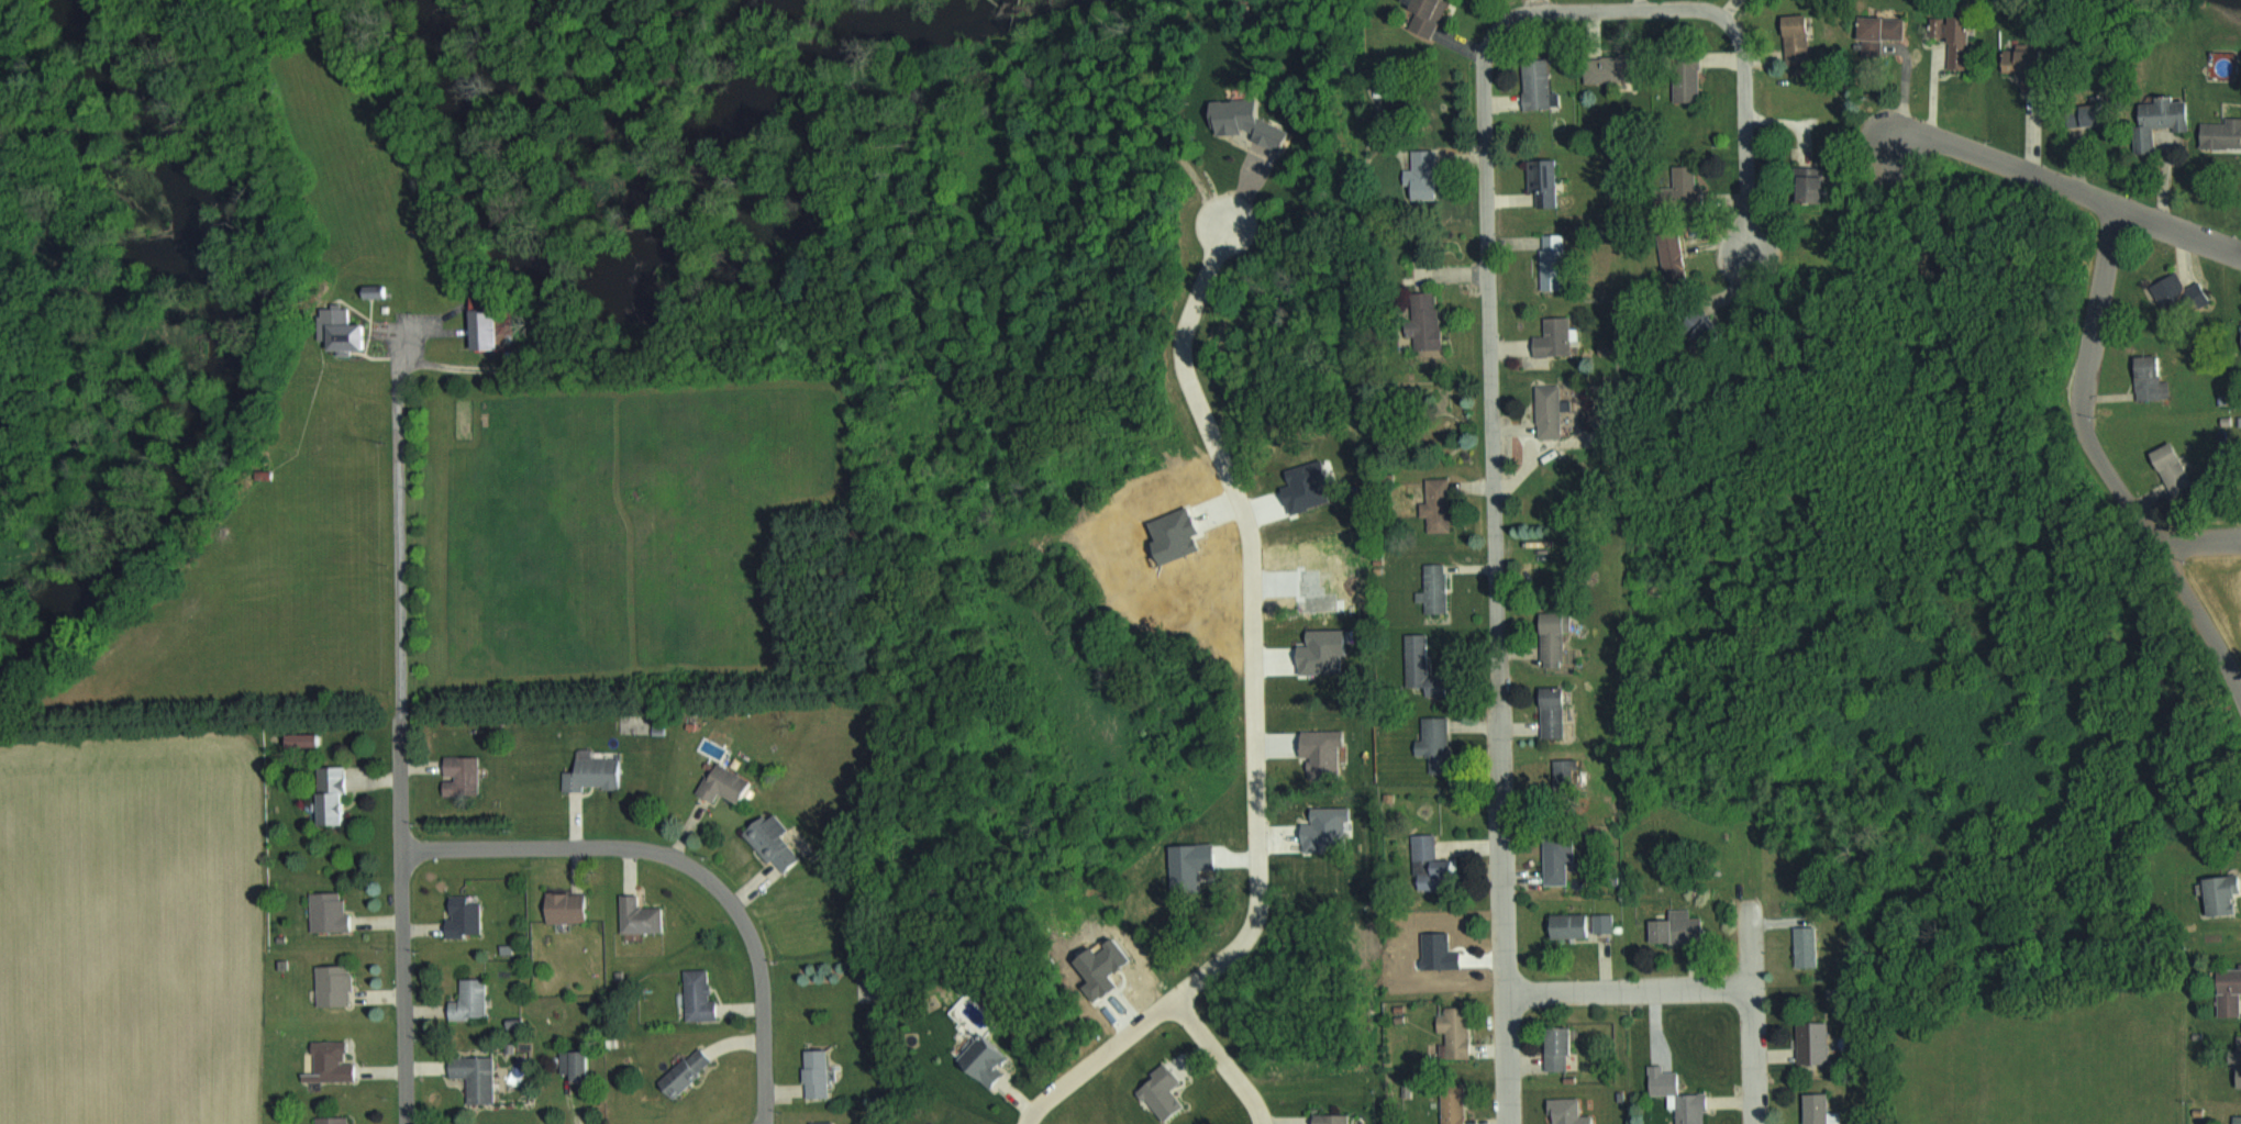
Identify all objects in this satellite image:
building: (1428, 15)
building: (1873, 27)
building: (1788, 37)
building: (1946, 37)
building: (2012, 59)
building: (1602, 68)
building: (1679, 77)
building: (1533, 82)
building: (2076, 113)
building: (2153, 119)
building: (2218, 133)
building: (1423, 174)
building: (1543, 181)
building: (1804, 183)
road: (2062, 183)
building: (1672, 188)
building: (1667, 258)
building: (1554, 260)
river: (629, 264)
building: (2172, 297)
building: (1429, 320)
building: (1702, 326)
building: (495, 327)
building: (352, 330)
building: (1558, 335)
road: (1489, 337)
building: (2238, 341)
river: (234, 347)
building: (2142, 379)
building: (1554, 410)
building: (2165, 467)
road: (2104, 468)
building: (1439, 499)
road: (397, 527)
road: (2199, 542)
building: (1439, 587)
building: (1560, 637)
building: (1420, 659)
building: (1560, 711)
road: (1253, 713)
building: (1439, 742)
building: (598, 772)
building: (466, 774)
building: (1567, 774)
road: (398, 781)
building: (728, 782)
building: (335, 793)
building: (777, 841)
building: (1425, 845)
building: (1560, 857)
road: (685, 863)
building: (2214, 893)
building: (570, 905)
building: (331, 910)
building: (468, 914)
building: (643, 914)
building: (1583, 922)
building: (1683, 926)
building: (1807, 942)
building: (336, 983)
road: (402, 986)
building: (2223, 990)
road: (1628, 991)
building: (701, 995)
building: (474, 999)
road: (1752, 1025)
building: (1456, 1027)
building: (1812, 1040)
building: (1563, 1047)
road: (1220, 1057)
building: (991, 1058)
building: (334, 1060)
building: (2234, 1060)
building: (576, 1065)
building: (688, 1071)
building: (514, 1072)
building: (819, 1072)
building: (477, 1076)
building: (1454, 1103)
building: (1691, 1106)
building: (1817, 1108)
building: (1567, 1111)
building: (1336, 1117)
building: (2233, 1119)
building: (336, 1120)
building: (824, 1122)

